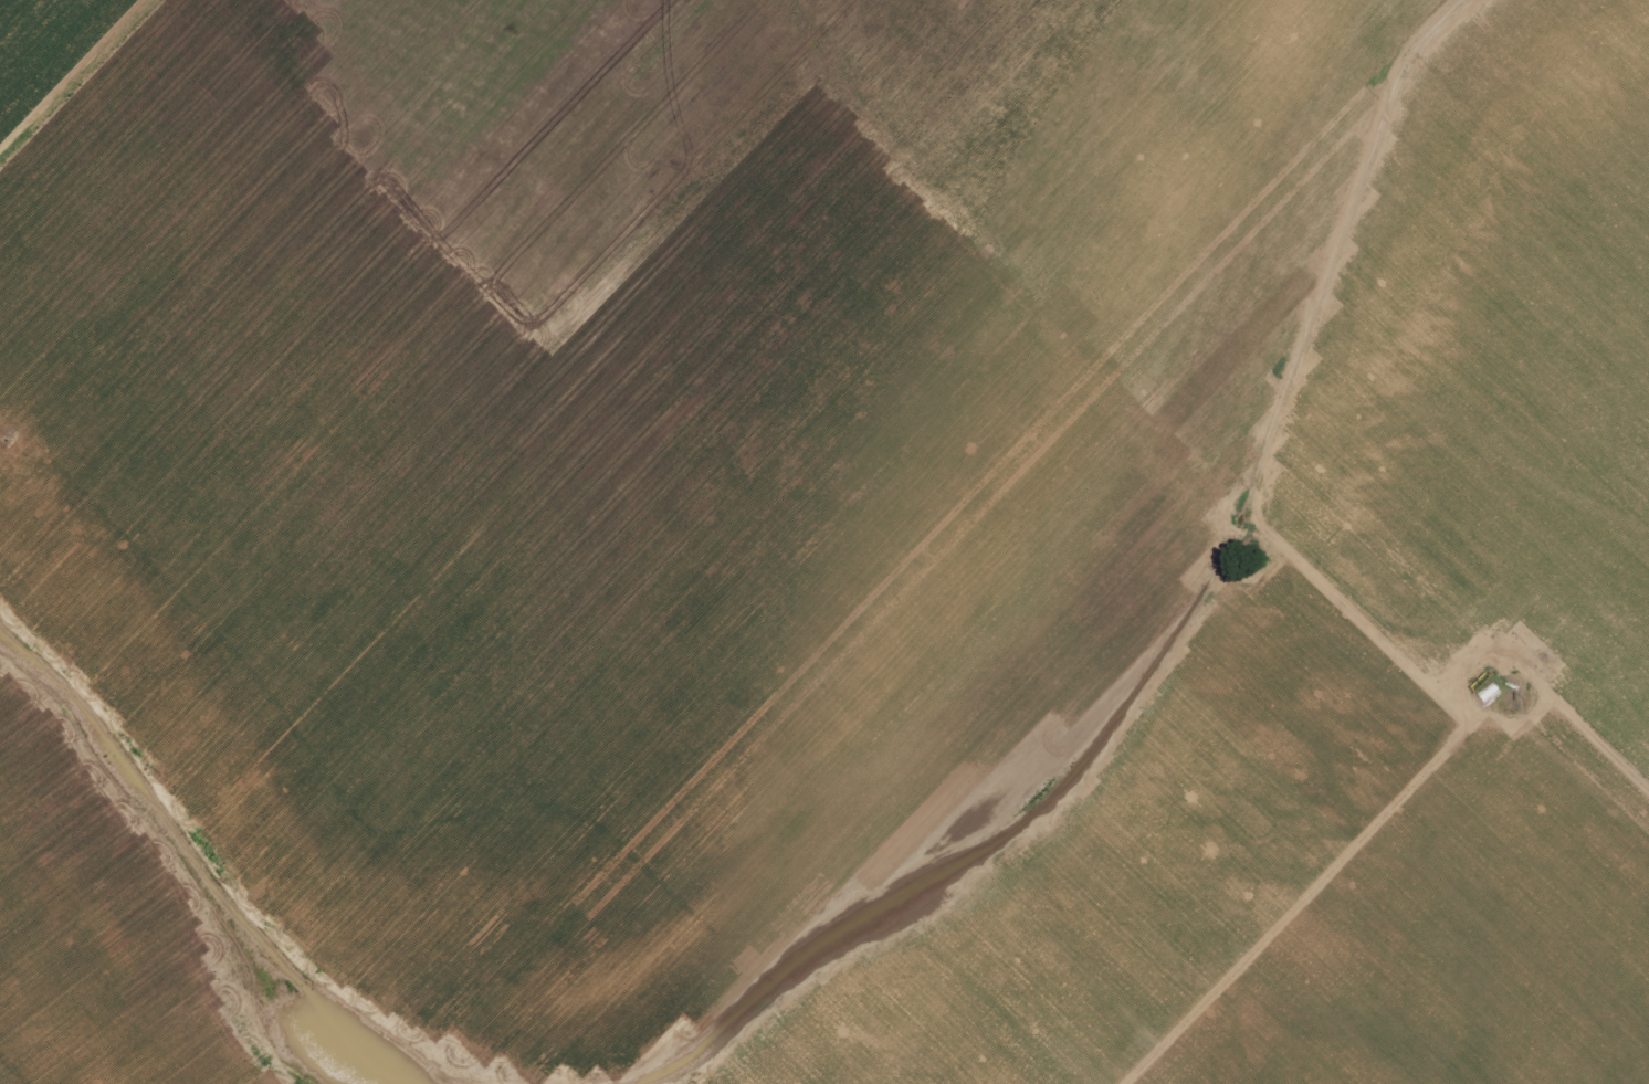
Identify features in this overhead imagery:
road: (1389, 853)

